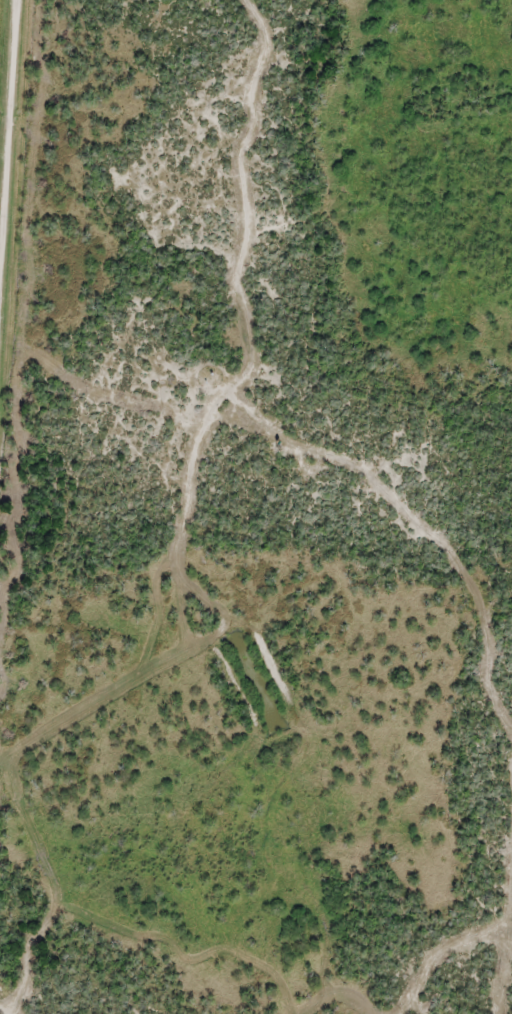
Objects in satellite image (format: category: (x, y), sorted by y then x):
road: (20, 198)

